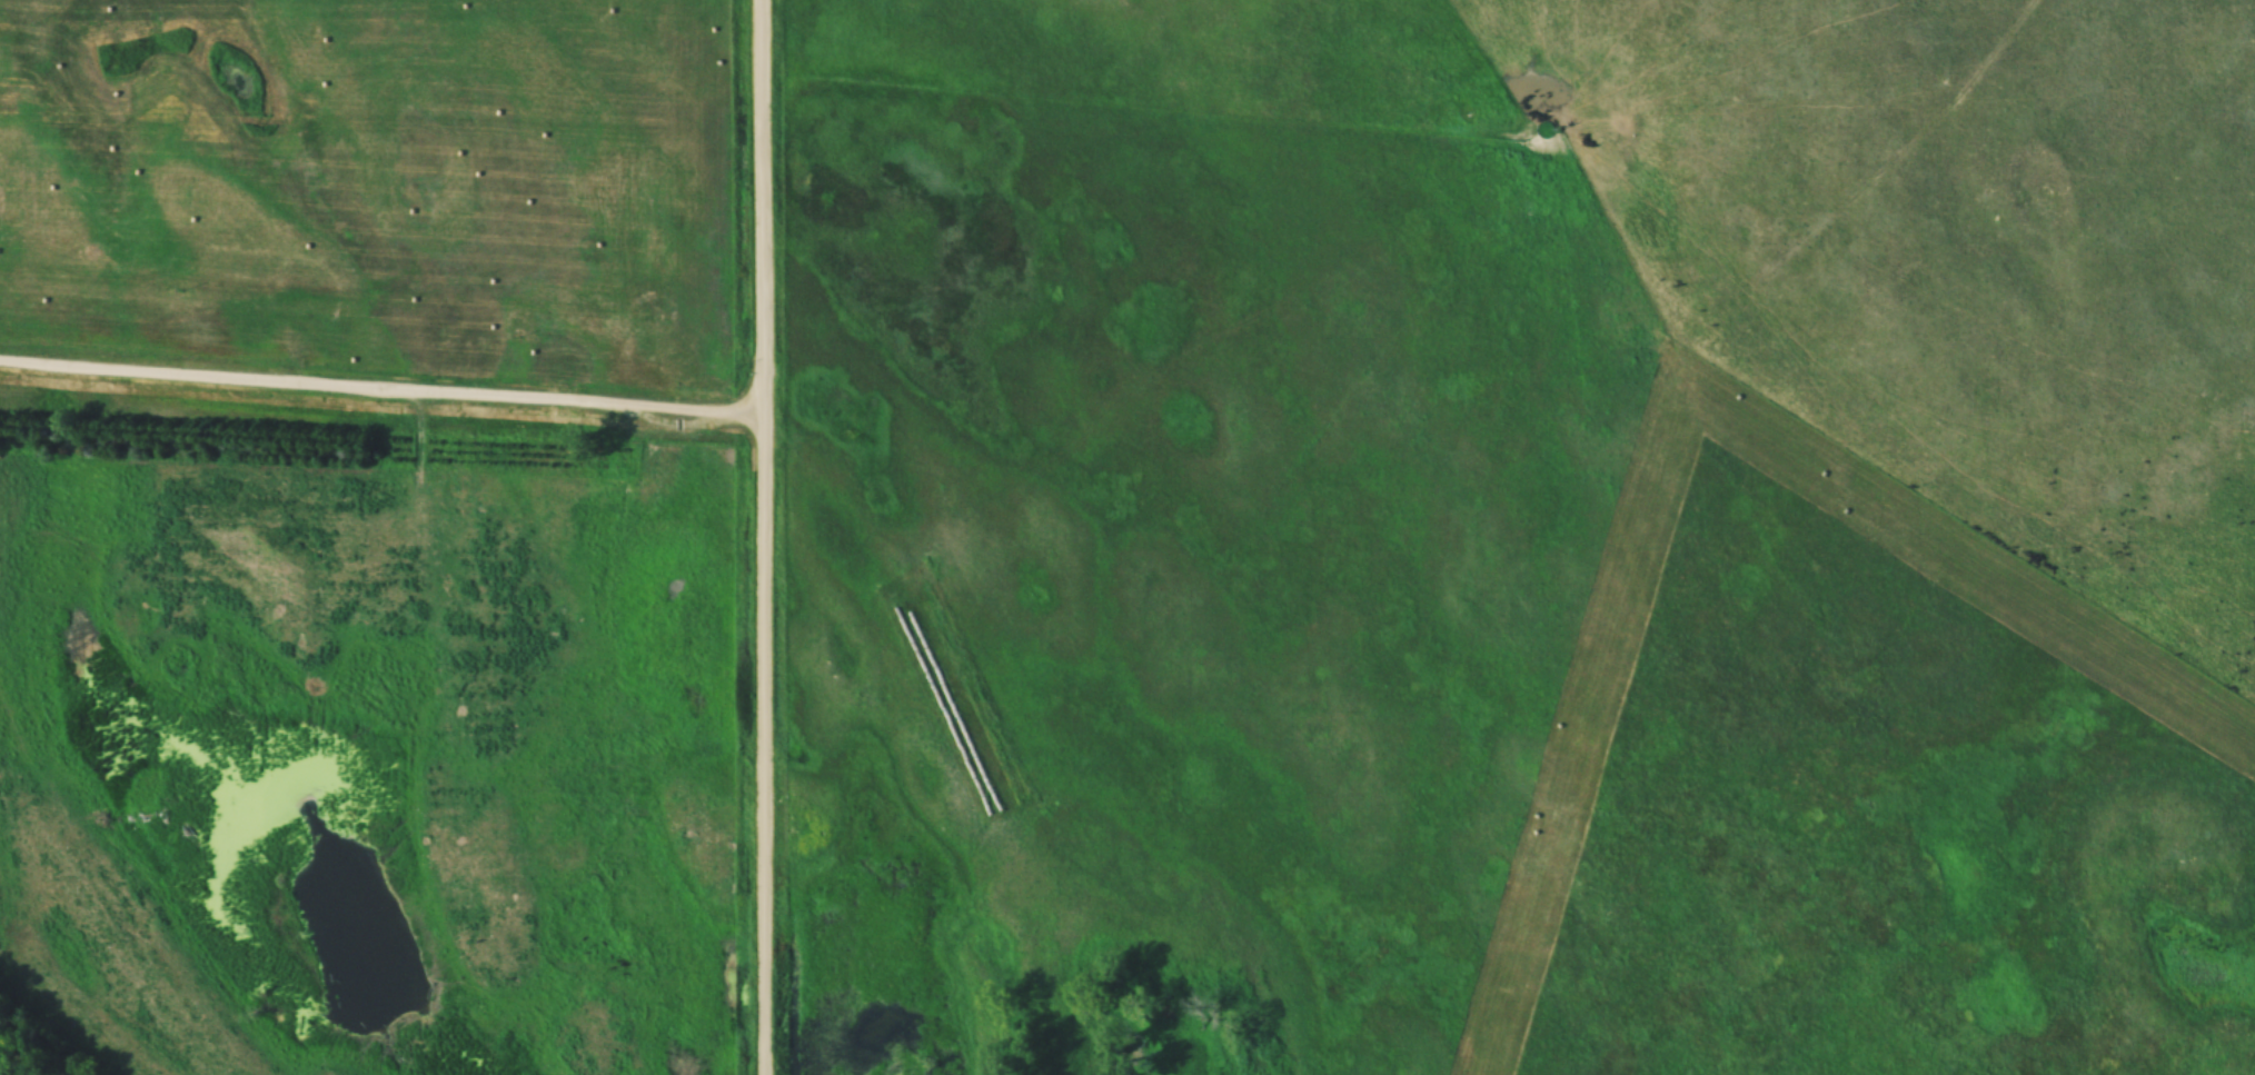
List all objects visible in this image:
road: (380, 392)
road: (763, 537)

